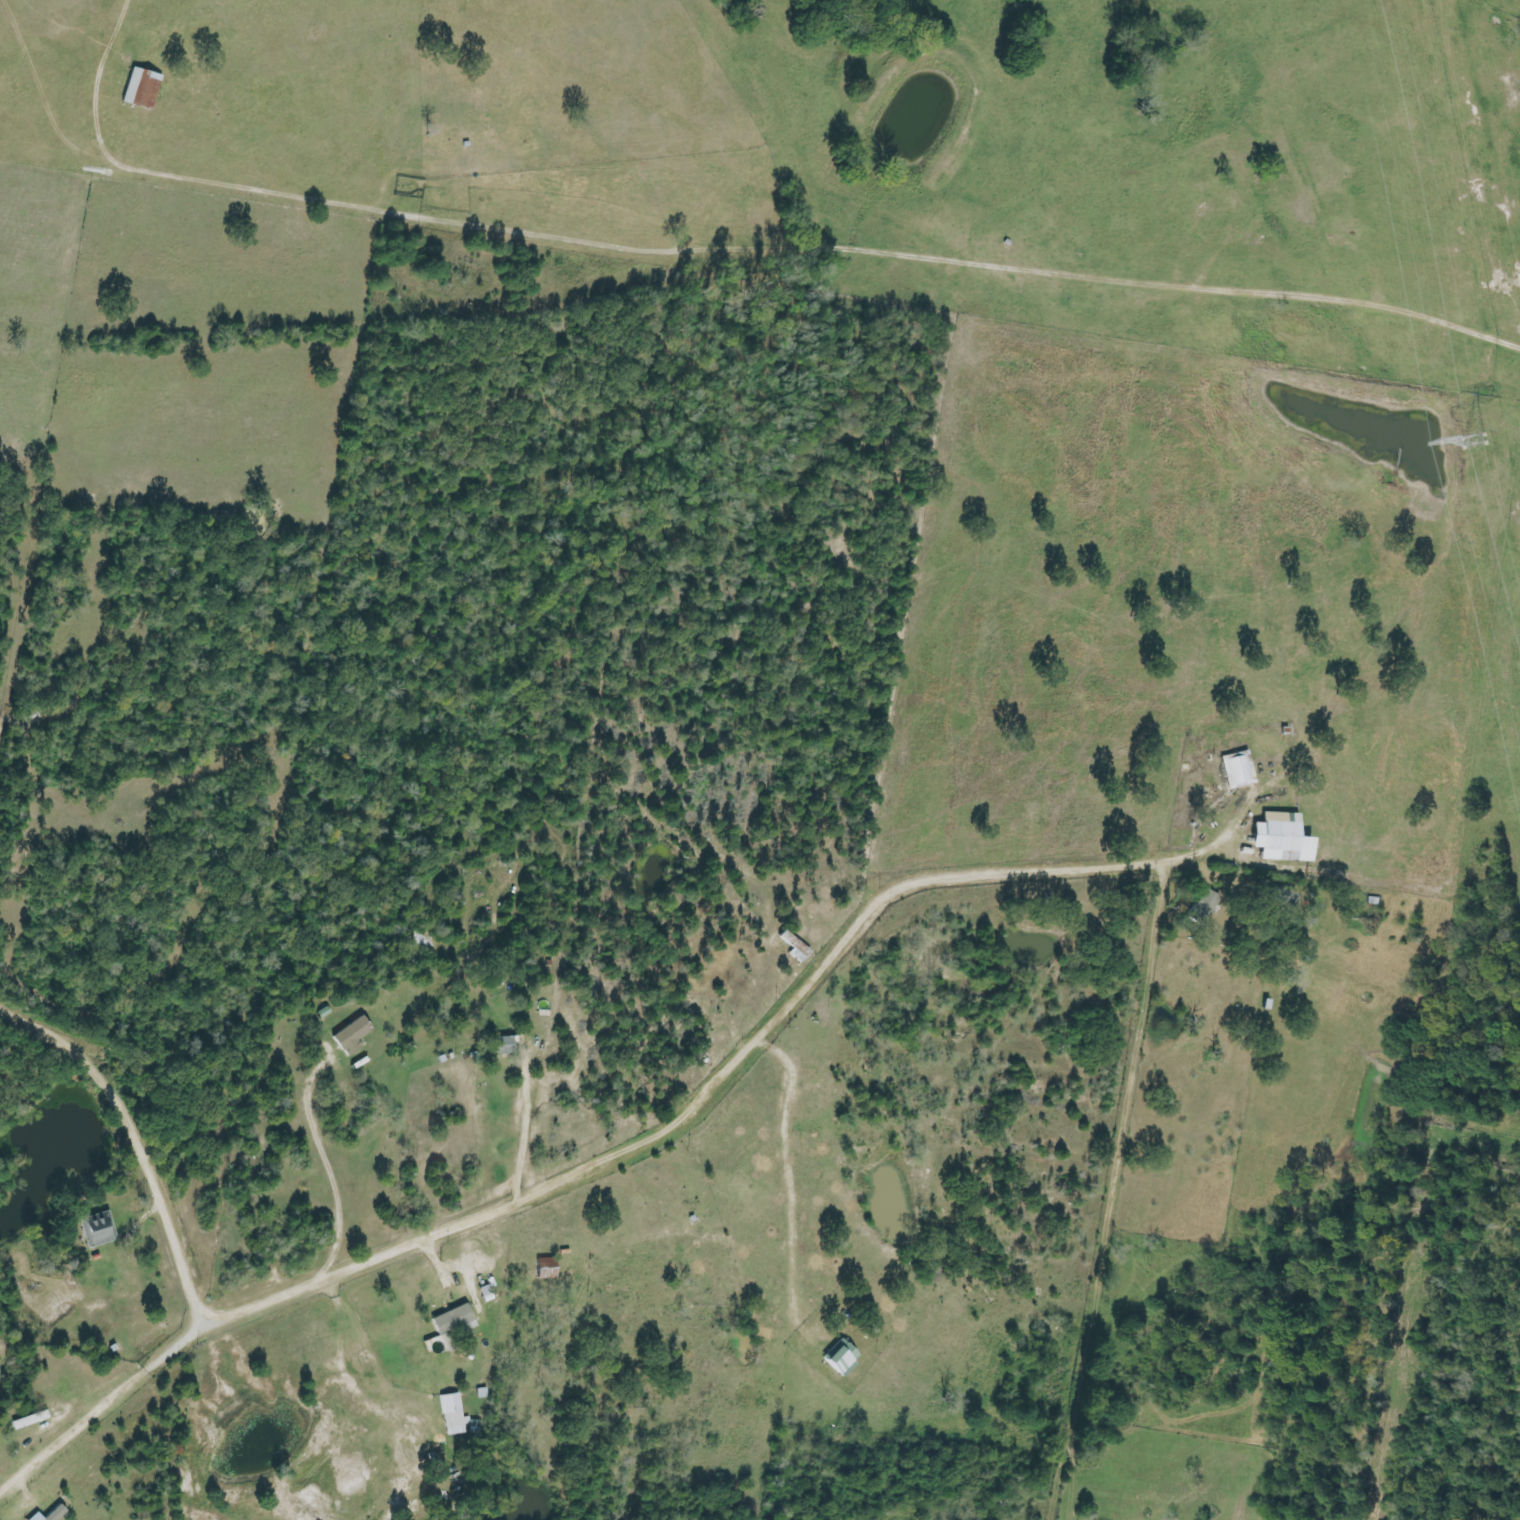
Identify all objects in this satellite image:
railway: (1512, 35)
building: (142, 88)
power tower: (1470, 442)
building: (1282, 838)
building: (1204, 906)
building: (351, 1037)
building: (504, 1045)
road: (559, 1182)
building: (98, 1230)
road: (147, 1287)
building: (485, 1293)
building: (453, 1325)
road: (430, 1342)
building: (454, 1412)
building: (50, 1514)

